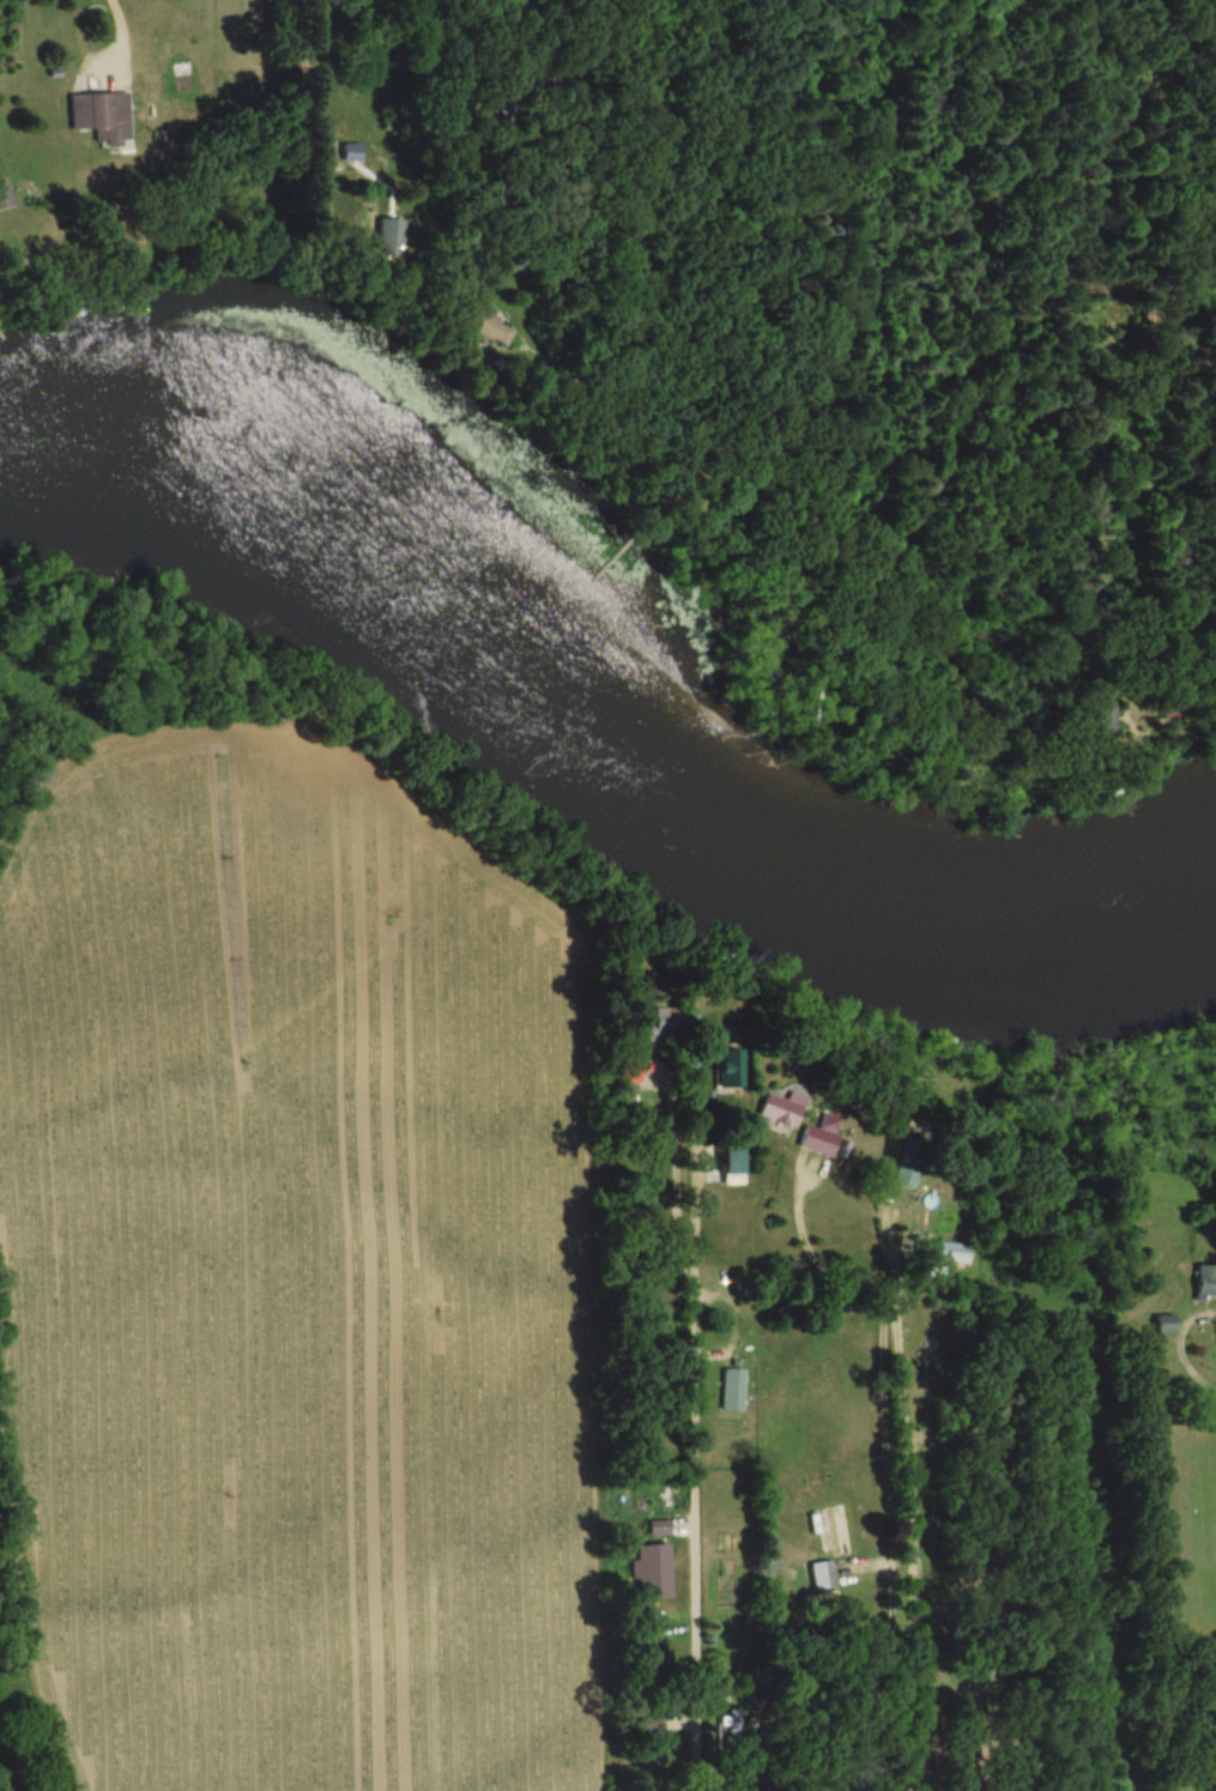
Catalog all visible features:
road: (119, 26)
road: (282, 102)
building: (502, 103)
building: (99, 116)
road: (569, 175)
building: (388, 238)
building: (486, 328)
building: (1106, 718)
river: (589, 724)
building: (663, 1027)
building: (822, 1136)
building: (733, 1164)
road: (809, 1247)
building: (951, 1253)
building: (1164, 1323)
road: (1182, 1344)
building: (732, 1390)
road: (691, 1476)
road: (888, 1497)
building: (658, 1527)
building: (834, 1529)
building: (651, 1571)
building: (728, 1726)
building: (649, 1729)

